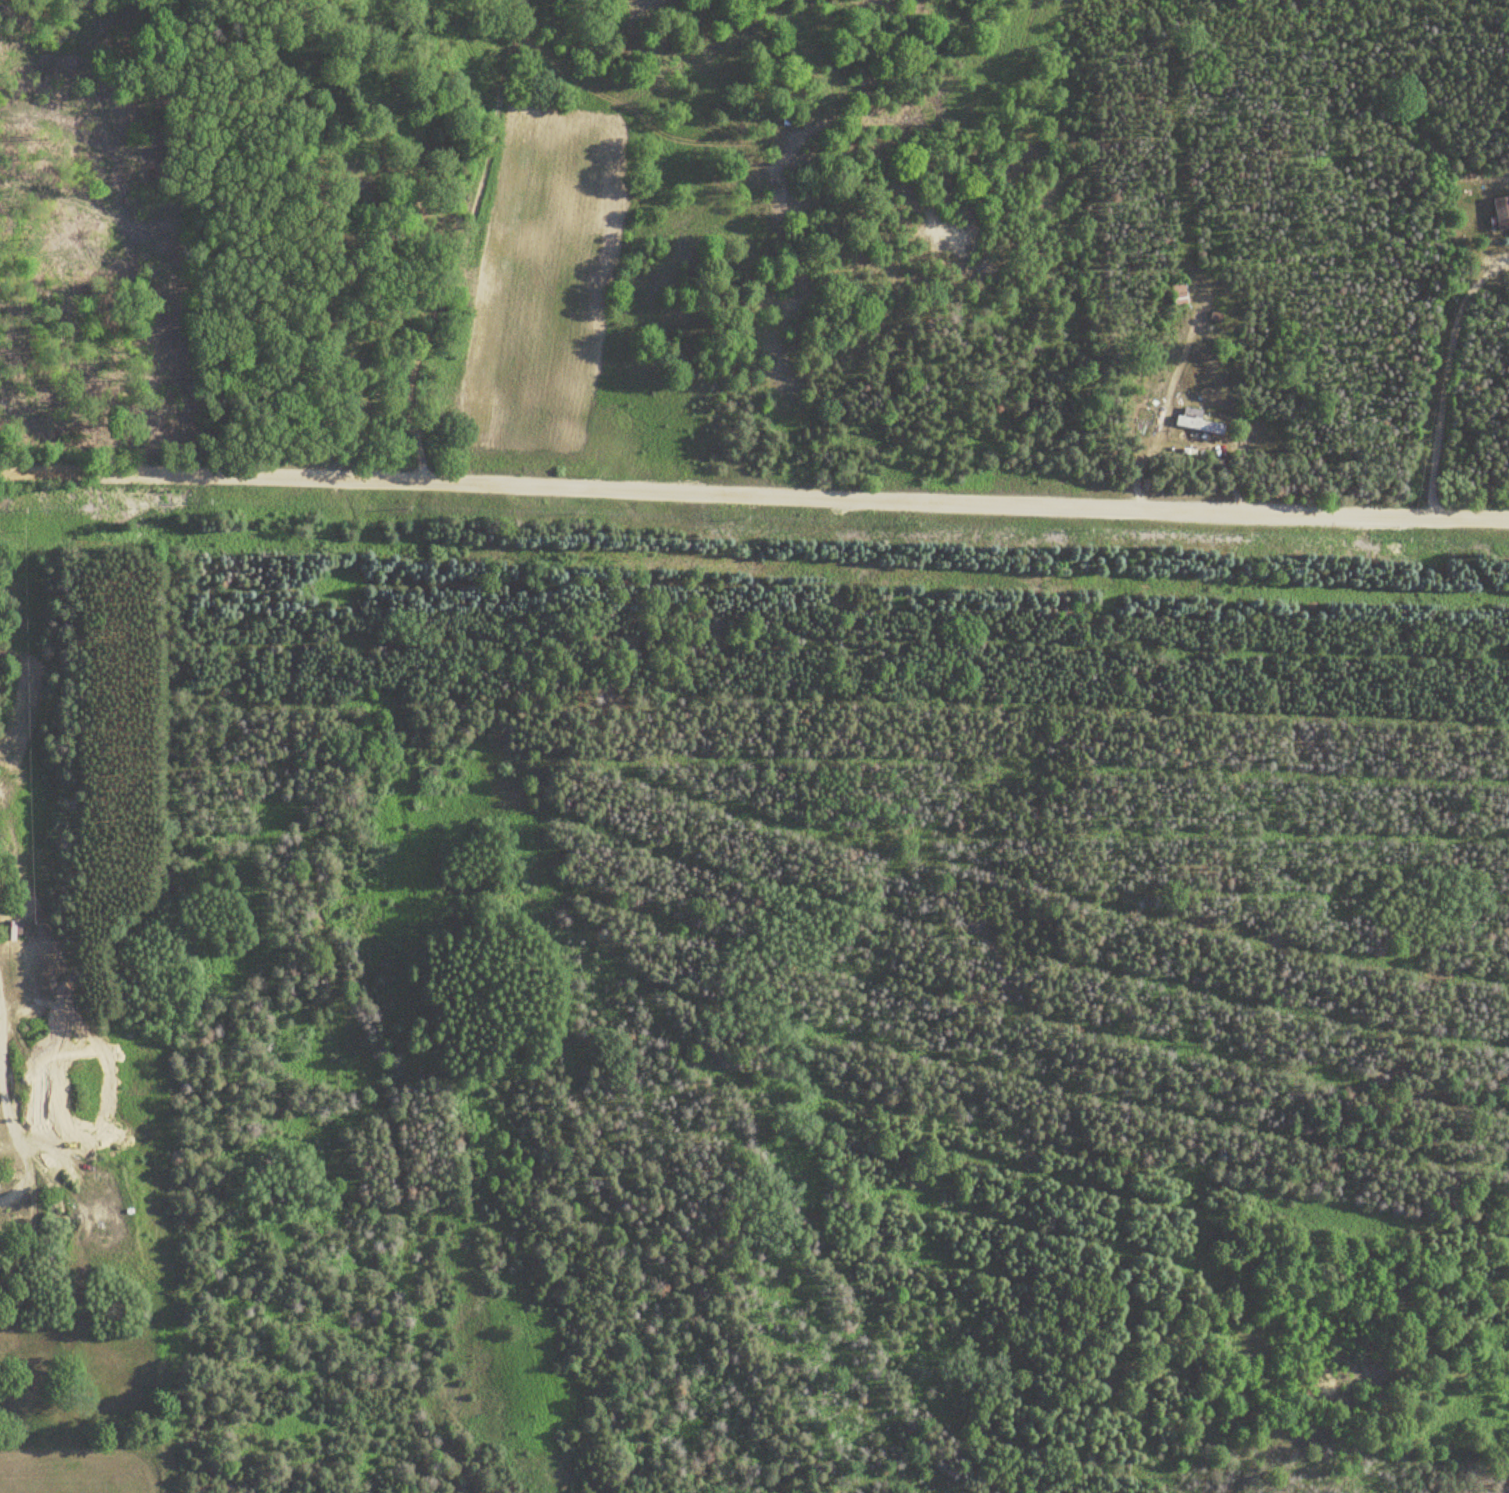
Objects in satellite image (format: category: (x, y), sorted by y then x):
building: (1500, 212)
building: (1177, 294)
building: (1194, 421)
road: (754, 492)

